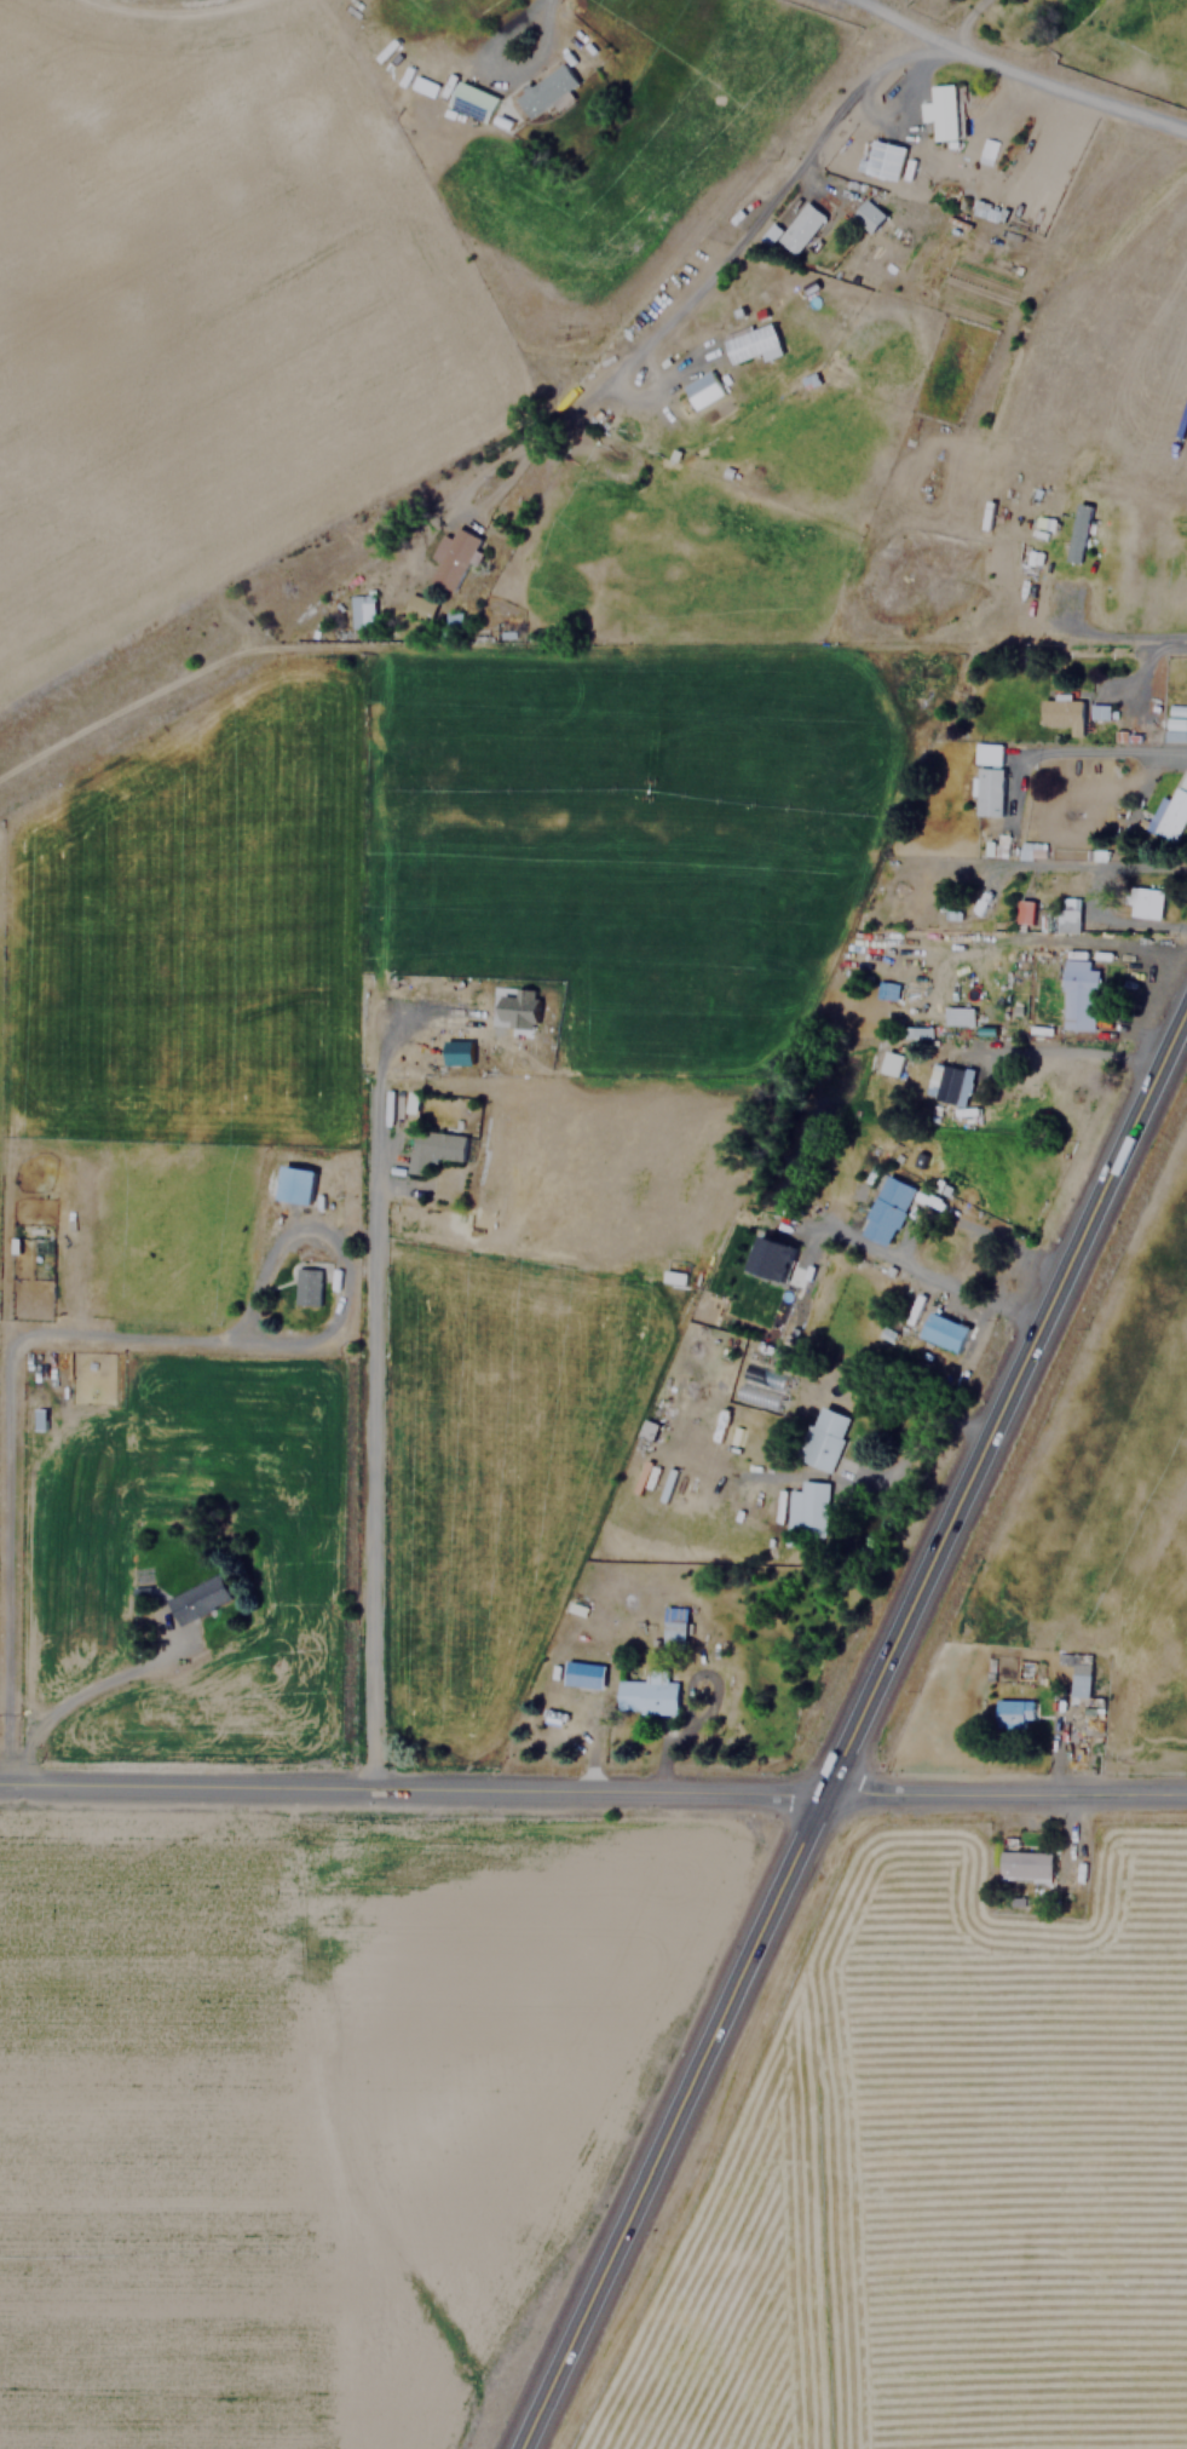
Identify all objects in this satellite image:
road: (1015, 68)
road: (495, 70)
building: (546, 91)
building: (471, 100)
building: (941, 111)
building: (885, 159)
road: (767, 211)
building: (869, 215)
building: (801, 228)
building: (748, 339)
building: (703, 389)
building: (1077, 533)
building: (454, 558)
building: (419, 608)
building: (362, 611)
building: (450, 626)
road: (1116, 634)
road: (1148, 662)
building: (1099, 711)
building: (1061, 713)
building: (1175, 729)
road: (1105, 751)
building: (987, 753)
building: (987, 791)
building: (1172, 809)
road: (1076, 866)
building: (1143, 902)
building: (1022, 912)
building: (1065, 919)
building: (883, 989)
building: (1077, 994)
building: (518, 1007)
building: (958, 1016)
building: (917, 1031)
building: (455, 1050)
building: (891, 1063)
building: (949, 1083)
building: (432, 1149)
building: (294, 1184)
building: (887, 1209)
building: (771, 1259)
building: (306, 1287)
building: (944, 1332)
road: (79, 1334)
building: (649, 1430)
building: (825, 1438)
road: (379, 1441)
building: (807, 1508)
building: (195, 1599)
building: (674, 1627)
building: (583, 1674)
building: (1078, 1684)
building: (649, 1692)
road: (69, 1703)
building: (1012, 1713)
road: (855, 1727)
road: (593, 1792)
building: (1024, 1866)
crop: (312, 2110)
crop: (939, 2169)

